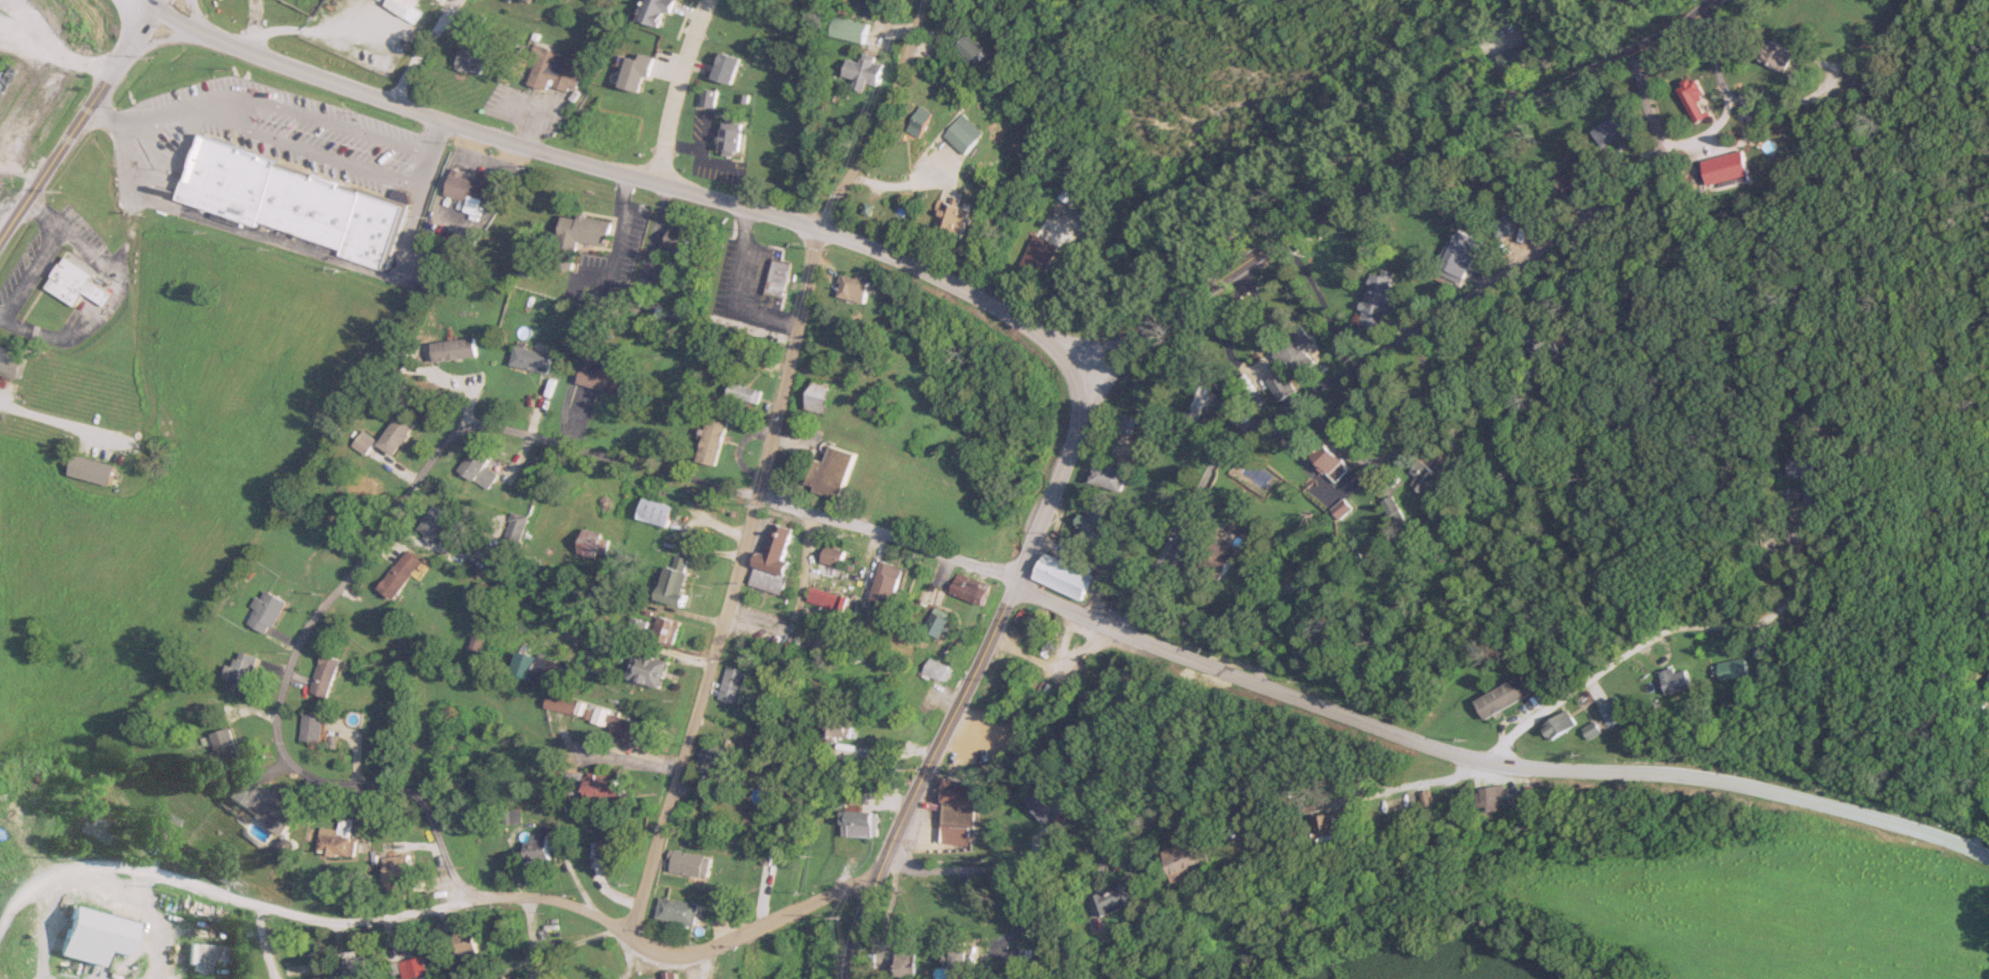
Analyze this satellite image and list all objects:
building: (522, 0)
road: (144, 4)
road: (152, 4)
building: (403, 8)
building: (653, 11)
building: (849, 29)
building: (1866, 38)
building: (971, 49)
road: (420, 51)
building: (1516, 54)
road: (53, 55)
building: (1774, 56)
building: (472, 60)
building: (723, 68)
building: (553, 70)
building: (863, 71)
building: (2, 74)
road: (675, 88)
building: (1864, 90)
building: (707, 98)
building: (1692, 98)
road: (1737, 98)
road: (152, 117)
road: (324, 118)
building: (919, 121)
road: (77, 123)
building: (1610, 129)
road: (1705, 132)
building: (964, 134)
road: (437, 136)
building: (729, 142)
road: (316, 153)
building: (1726, 167)
road: (424, 171)
road: (622, 172)
building: (1572, 172)
road: (1383, 176)
building: (467, 187)
building: (289, 201)
building: (952, 219)
building: (1504, 225)
road: (65, 231)
building: (577, 237)
road: (273, 238)
building: (672, 241)
road: (1143, 244)
building: (1039, 254)
building: (1456, 256)
building: (775, 278)
building: (69, 280)
building: (853, 288)
road: (735, 290)
building: (633, 302)
building: (1379, 305)
road: (1402, 332)
building: (1539, 343)
building: (454, 350)
building: (1347, 351)
building: (1295, 353)
building: (531, 360)
building: (11, 365)
building: (603, 379)
building: (1280, 384)
building: (742, 392)
building: (818, 396)
building: (1195, 405)
road: (60, 423)
building: (1123, 423)
building: (395, 434)
building: (710, 441)
building: (363, 443)
road: (795, 446)
road: (594, 452)
road: (1298, 457)
road: (766, 461)
building: (1329, 461)
building: (1801, 467)
building: (477, 469)
building: (92, 470)
building: (837, 475)
building: (1106, 476)
building: (1428, 479)
road: (1053, 480)
building: (1341, 507)
building: (1393, 508)
building: (654, 512)
building: (436, 524)
building: (1091, 524)
building: (513, 526)
road: (885, 539)
building: (589, 543)
building: (832, 555)
building: (1219, 558)
building: (770, 562)
building: (400, 573)
building: (1063, 574)
building: (887, 583)
building: (673, 585)
building: (483, 593)
building: (815, 598)
building: (1110, 599)
building: (266, 611)
building: (937, 625)
building: (653, 630)
road: (1668, 630)
road: (1262, 632)
road: (294, 651)
building: (647, 669)
building: (1737, 669)
building: (935, 670)
building: (241, 673)
building: (549, 673)
building: (326, 675)
building: (1678, 680)
building: (729, 685)
building: (1985, 692)
building: (1502, 697)
building: (561, 703)
building: (1611, 713)
building: (1561, 726)
building: (312, 727)
building: (842, 727)
building: (626, 729)
building: (1594, 731)
building: (220, 746)
road: (623, 757)
building: (712, 757)
road: (1490, 762)
road: (919, 777)
building: (604, 787)
road: (1409, 788)
building: (1498, 797)
building: (1043, 806)
building: (271, 808)
building: (957, 810)
building: (858, 824)
building: (161, 827)
building: (1337, 830)
building: (338, 839)
road: (437, 846)
building: (536, 848)
building: (615, 848)
road: (1062, 857)
building: (1191, 861)
building: (689, 864)
building: (398, 874)
building: (1125, 899)
building: (677, 912)
road: (306, 919)
road: (47, 926)
road: (151, 926)
road: (531, 926)
road: (753, 926)
building: (93, 936)
road: (583, 944)
road: (263, 945)
building: (601, 952)
building: (909, 964)
building: (963, 964)
building: (721, 966)
building: (356, 968)
building: (412, 968)
building: (665, 977)

